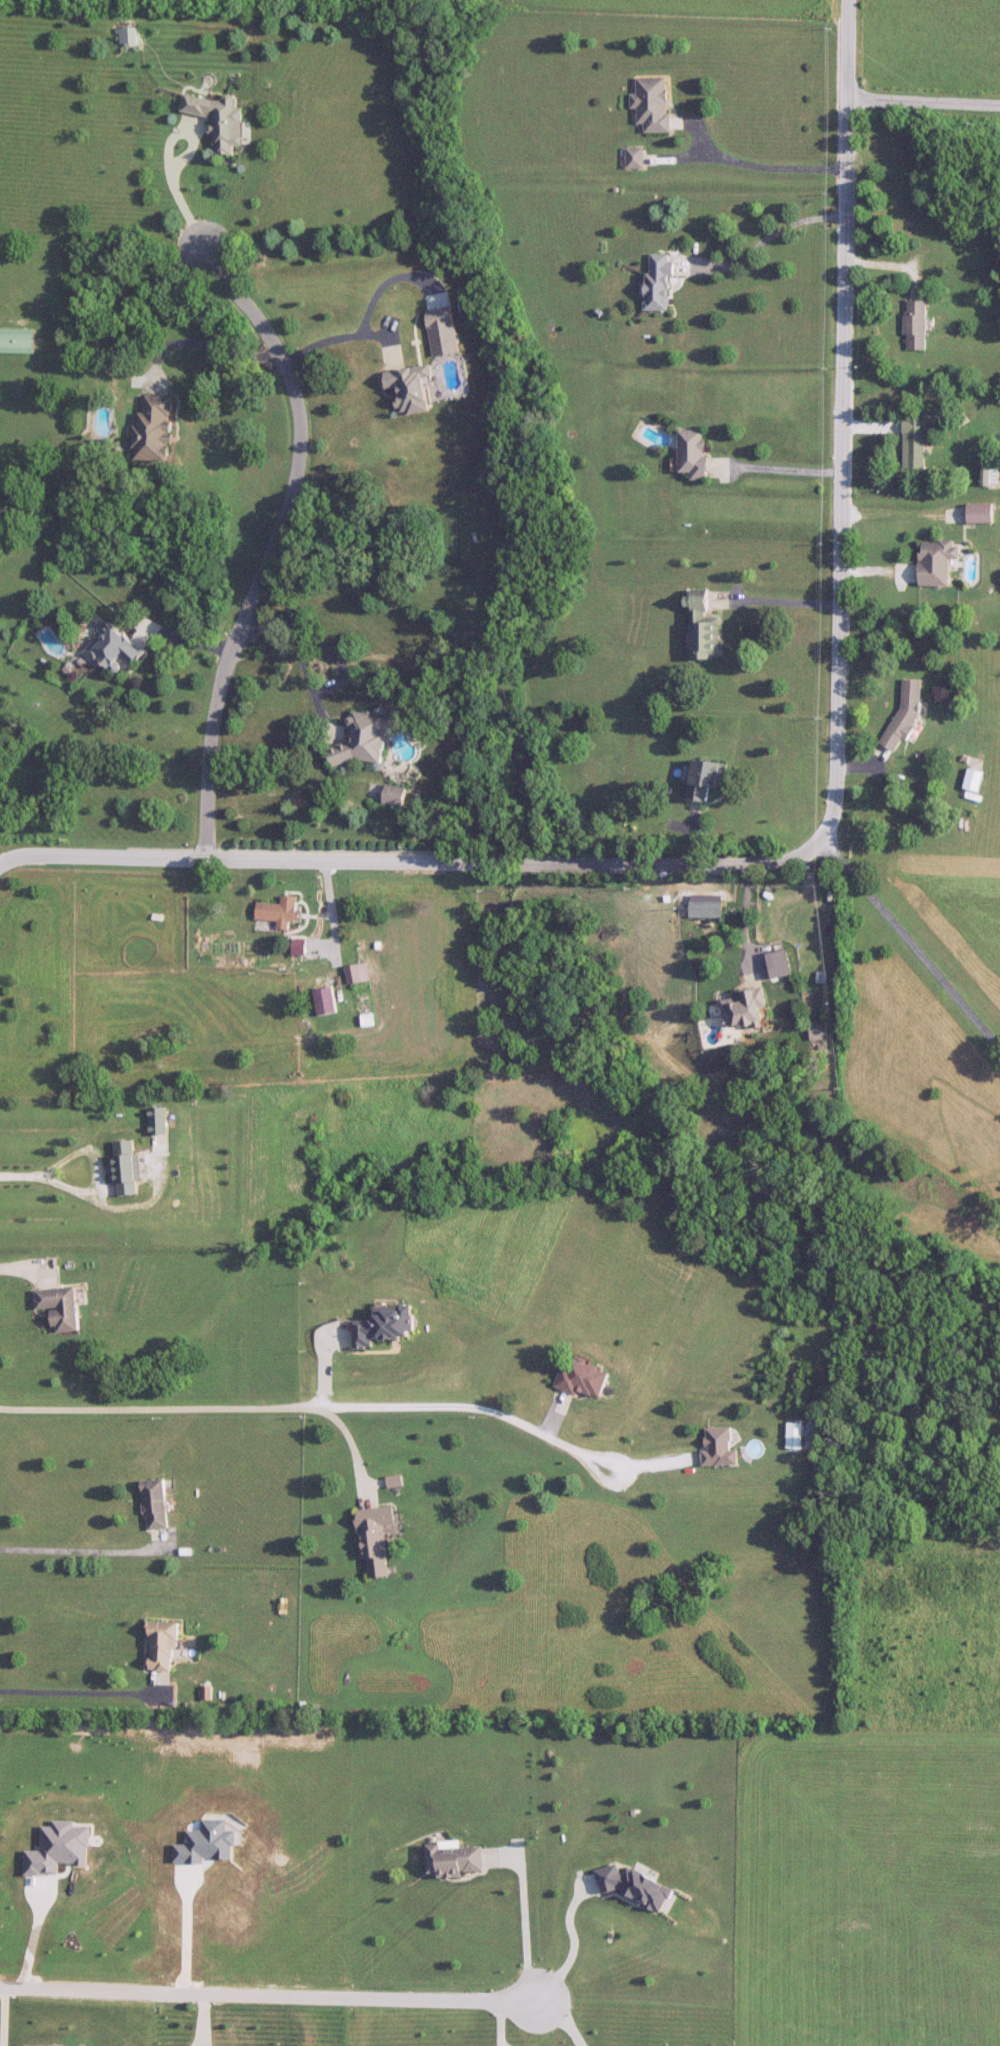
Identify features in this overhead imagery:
building: (131, 36)
building: (653, 102)
road: (923, 107)
building: (221, 121)
road: (173, 142)
building: (636, 157)
road: (759, 173)
road: (760, 248)
building: (660, 281)
building: (916, 325)
road: (333, 337)
building: (20, 341)
road: (193, 352)
building: (413, 387)
building: (157, 429)
building: (915, 443)
building: (695, 453)
road: (775, 476)
building: (990, 476)
road: (291, 510)
building: (982, 513)
building: (938, 561)
road: (774, 609)
building: (704, 627)
road: (149, 640)
building: (115, 648)
road: (206, 652)
building: (906, 714)
building: (364, 740)
road: (270, 766)
building: (708, 778)
building: (975, 780)
building: (396, 795)
road: (829, 840)
building: (707, 906)
building: (280, 912)
road: (745, 933)
road: (331, 936)
road: (912, 953)
building: (358, 973)
building: (325, 1002)
building: (747, 1009)
building: (818, 1031)
building: (158, 1121)
building: (127, 1168)
road: (95, 1170)
road: (20, 1175)
building: (62, 1307)
building: (387, 1326)
building: (584, 1380)
road: (317, 1413)
building: (796, 1436)
building: (720, 1448)
road: (359, 1463)
road: (642, 1466)
building: (395, 1481)
building: (156, 1504)
building: (375, 1538)
road: (90, 1556)
building: (164, 1647)
road: (97, 1701)
building: (456, 1860)
road: (523, 1915)
road: (186, 1931)
road: (33, 1933)
road: (574, 1945)
road: (266, 1997)
road: (562, 2018)

